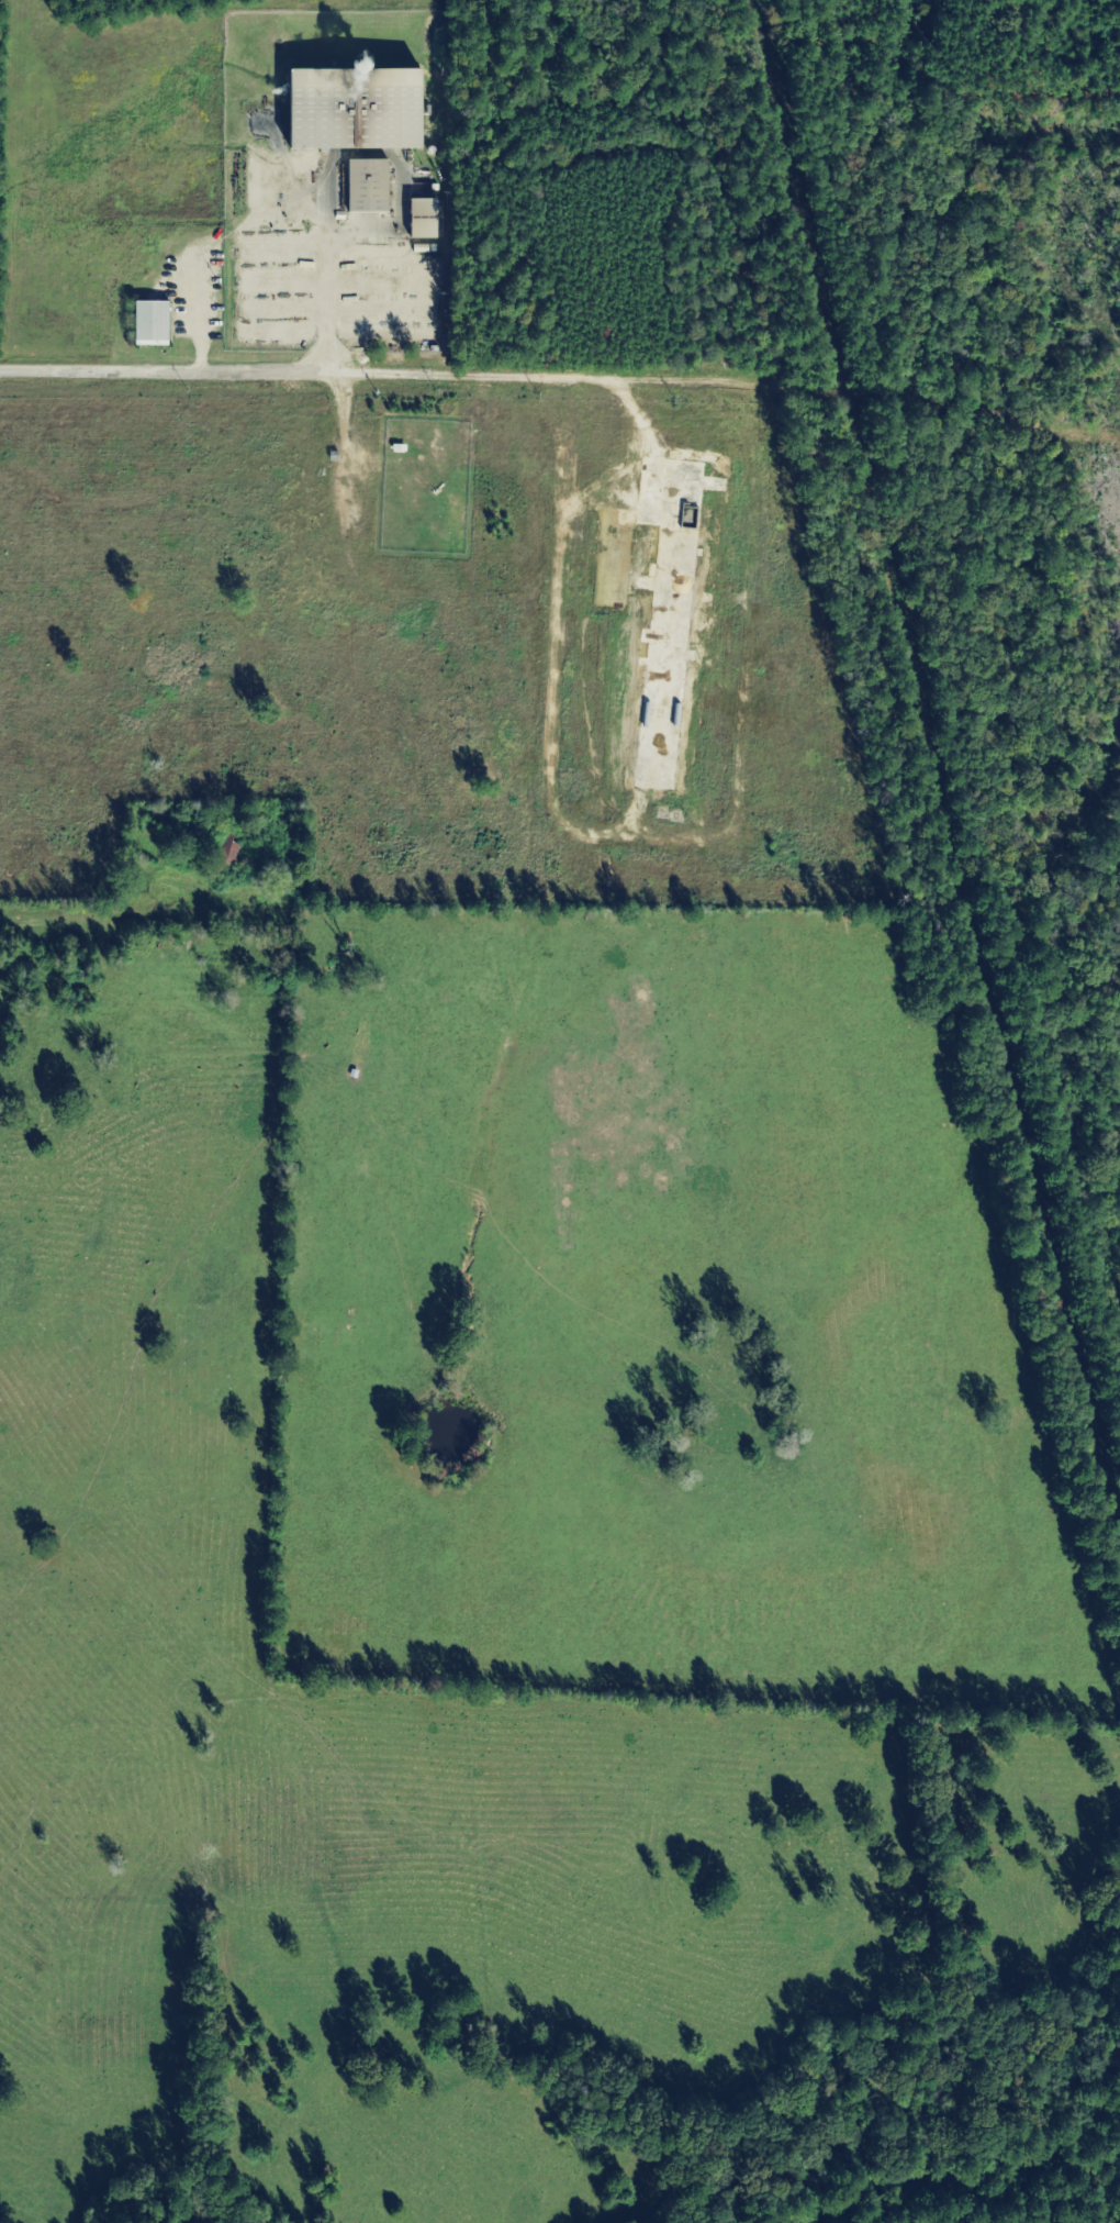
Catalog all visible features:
building: (346, 110)
building: (362, 187)
building: (419, 219)
building: (146, 323)
road: (396, 380)
building: (685, 515)
railway: (928, 810)
building: (225, 852)
road: (32, 925)

